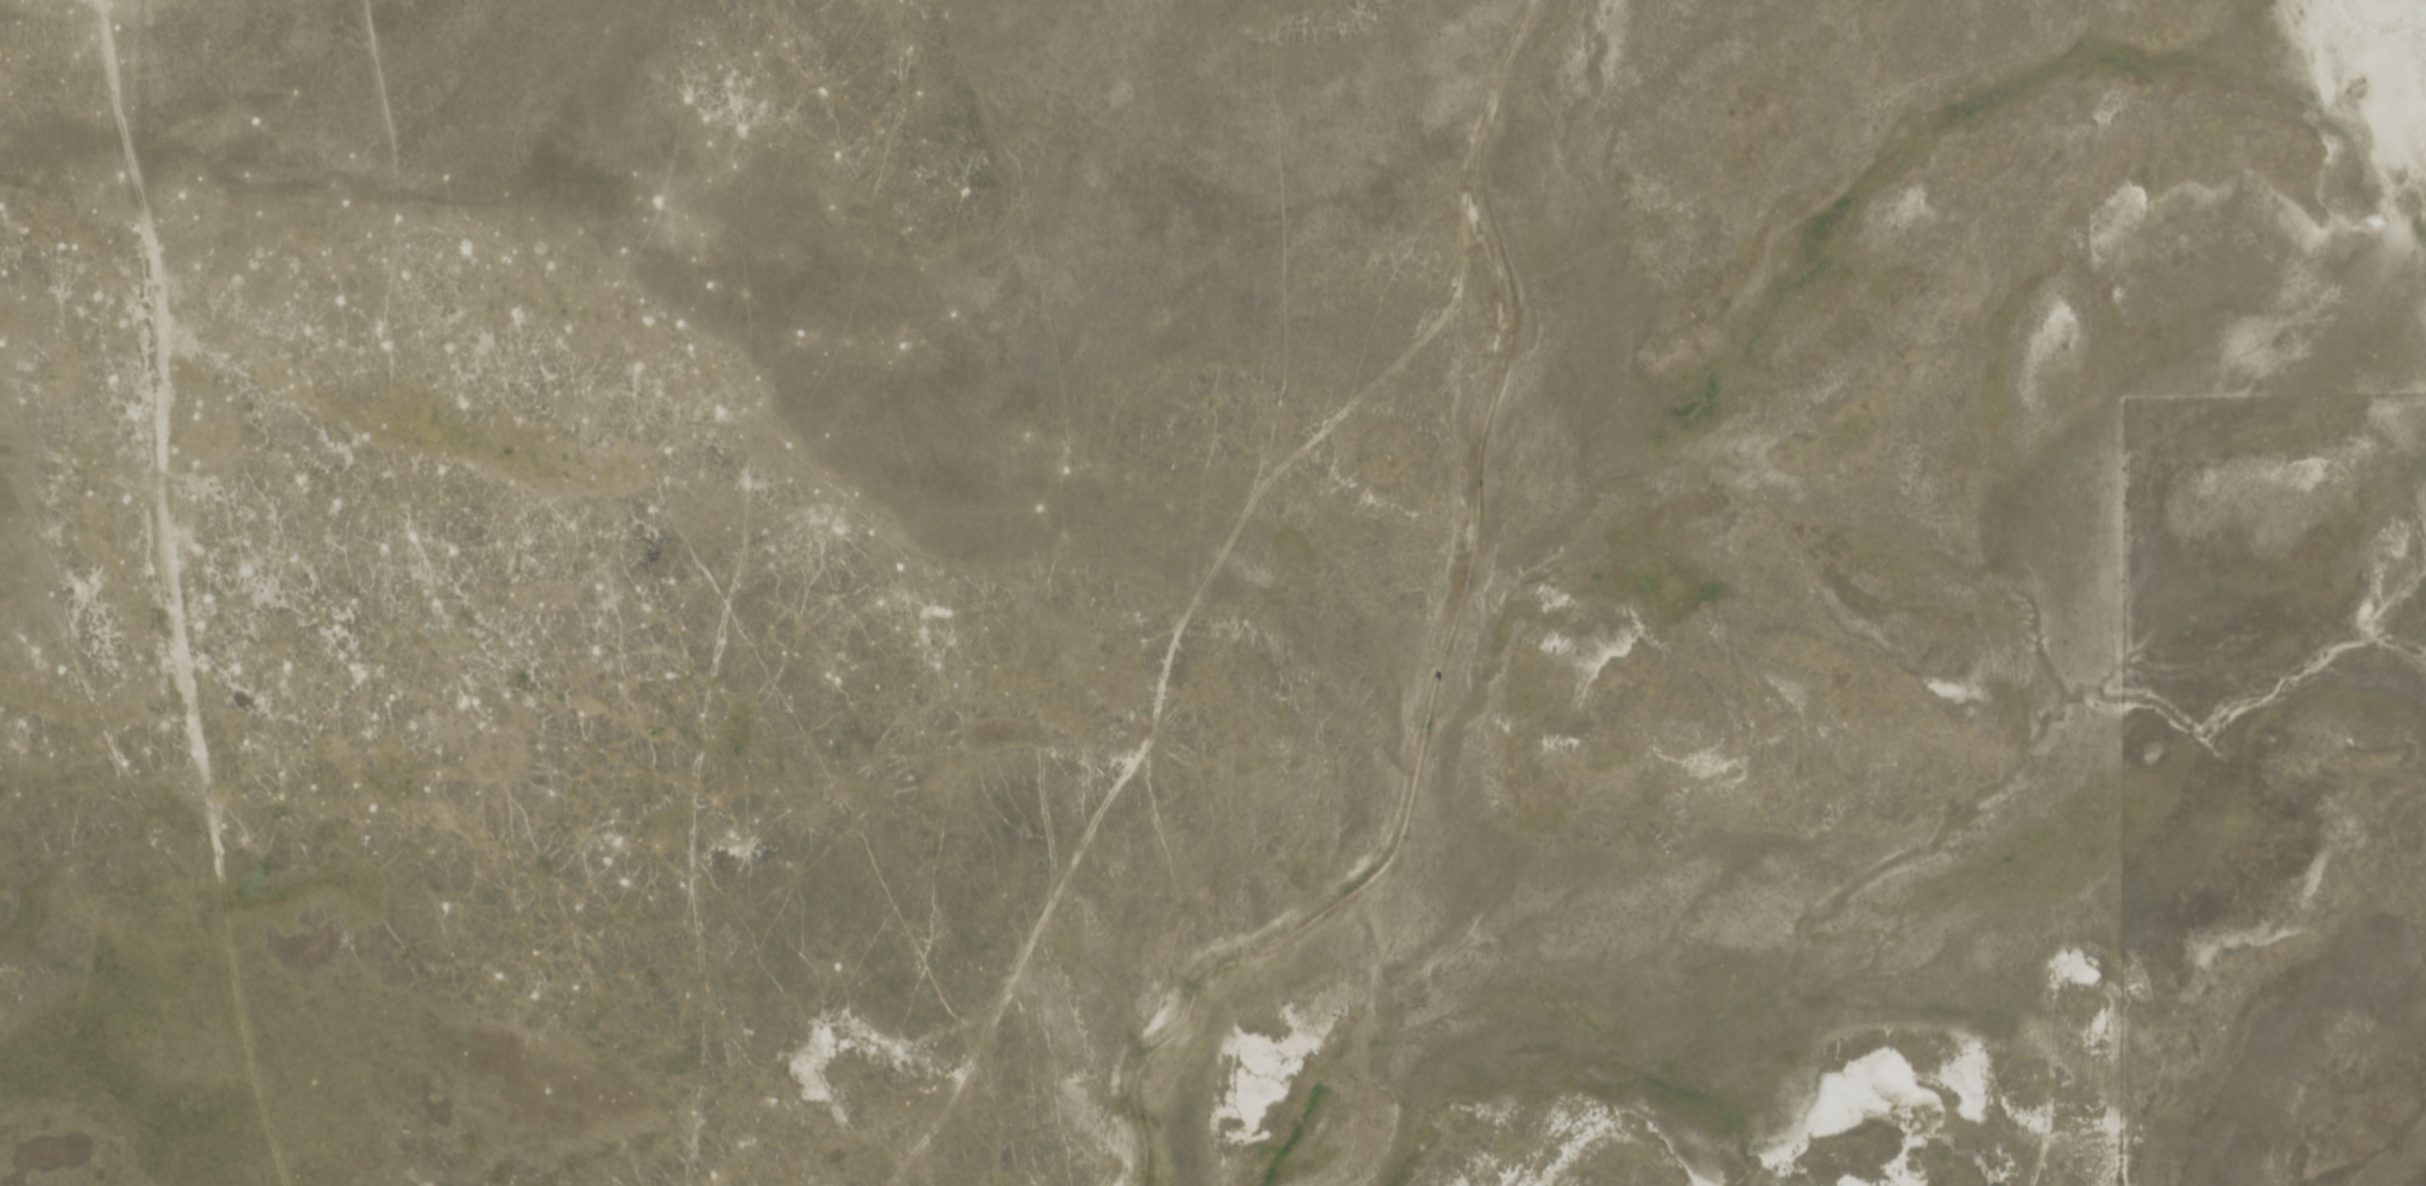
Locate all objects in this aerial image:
road: (188, 595)

